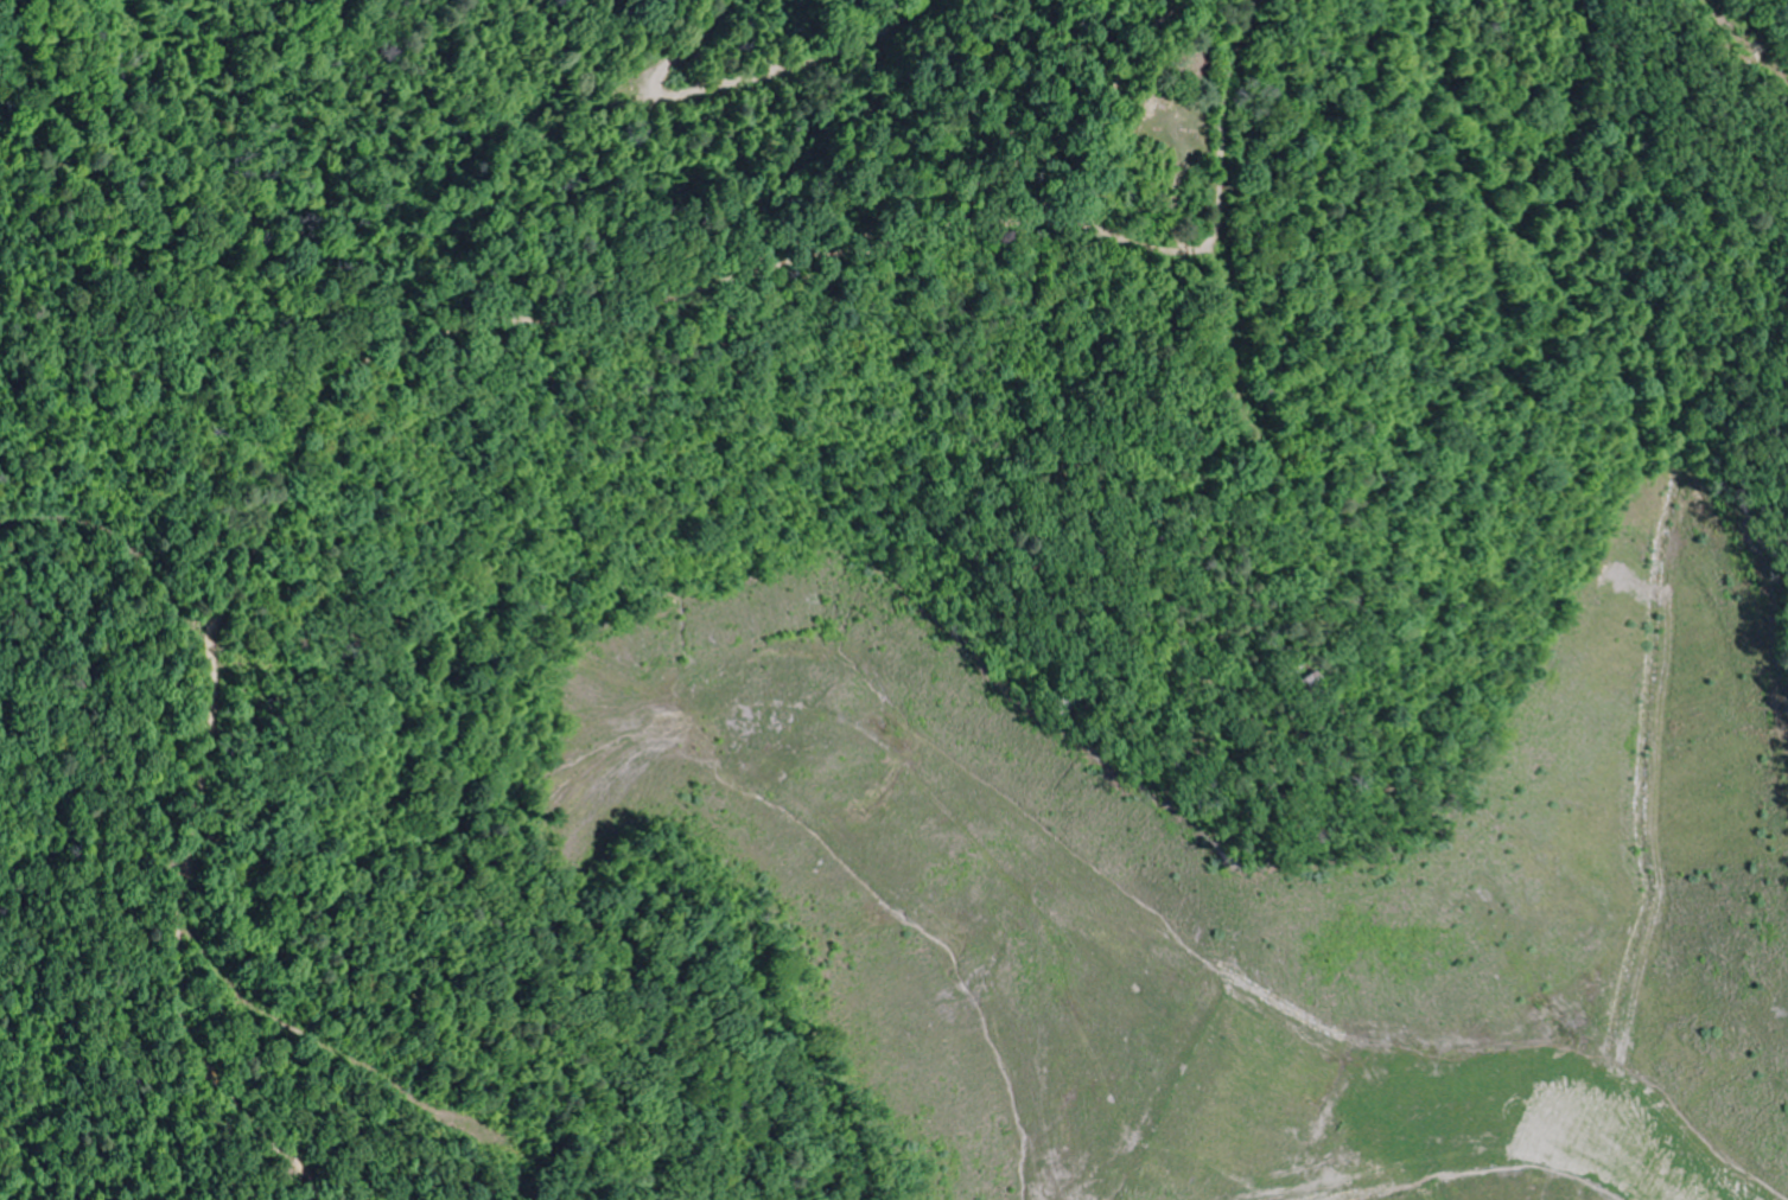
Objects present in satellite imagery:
road: (1620, 36)
road: (485, 343)

